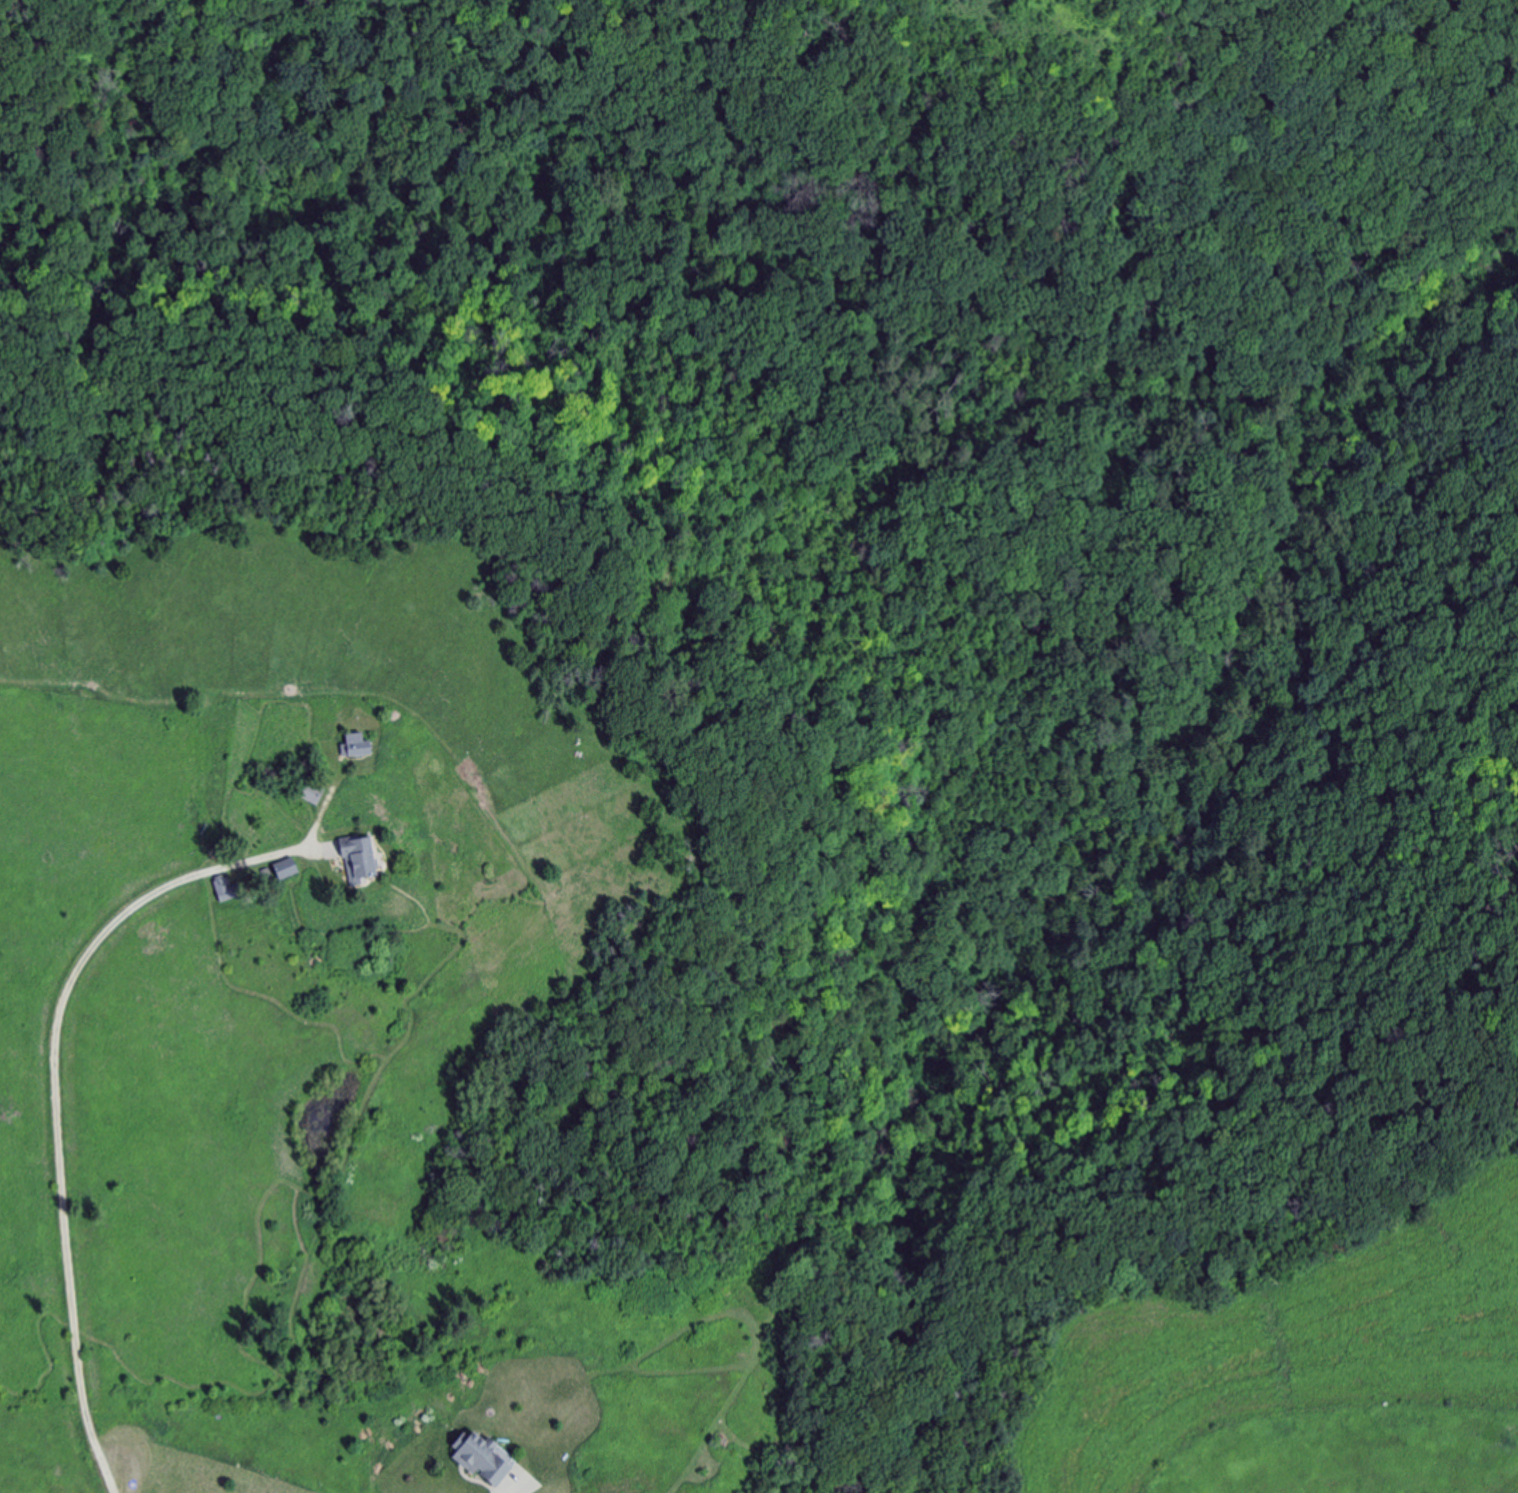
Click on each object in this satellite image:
building: (361, 747)
building: (315, 794)
building: (363, 859)
building: (290, 869)
building: (229, 889)
road: (57, 1073)
river: (389, 1339)
building: (486, 1459)
road: (120, 1479)

